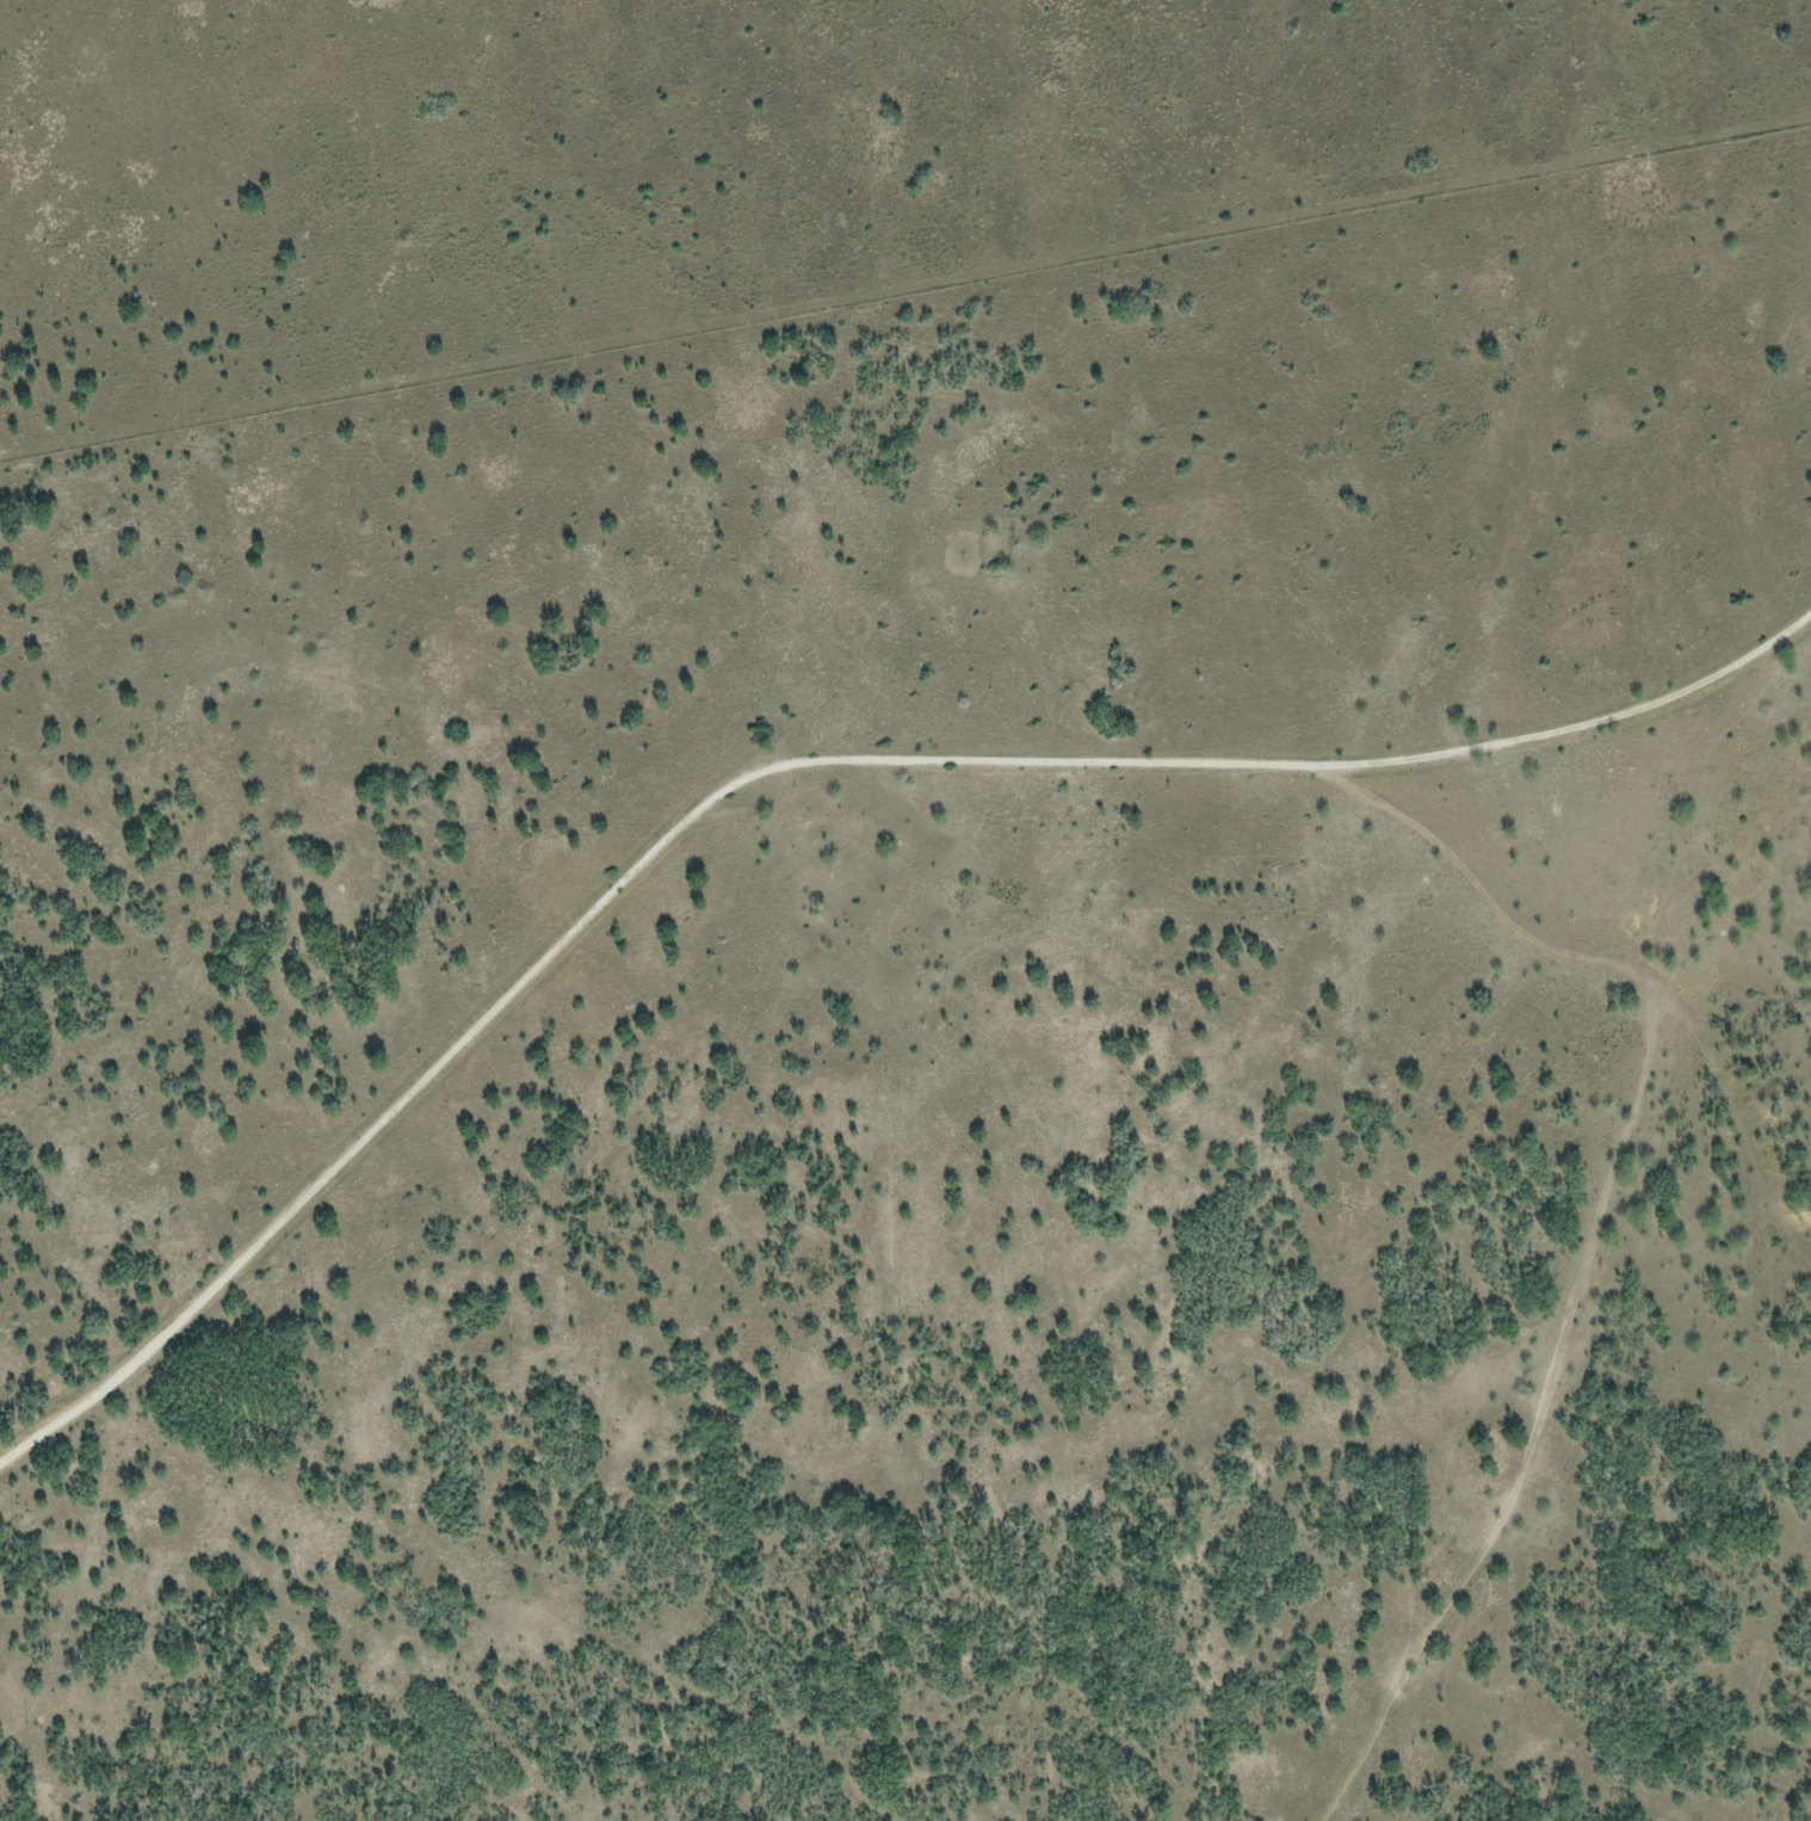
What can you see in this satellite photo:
road: (1640, 1742)

